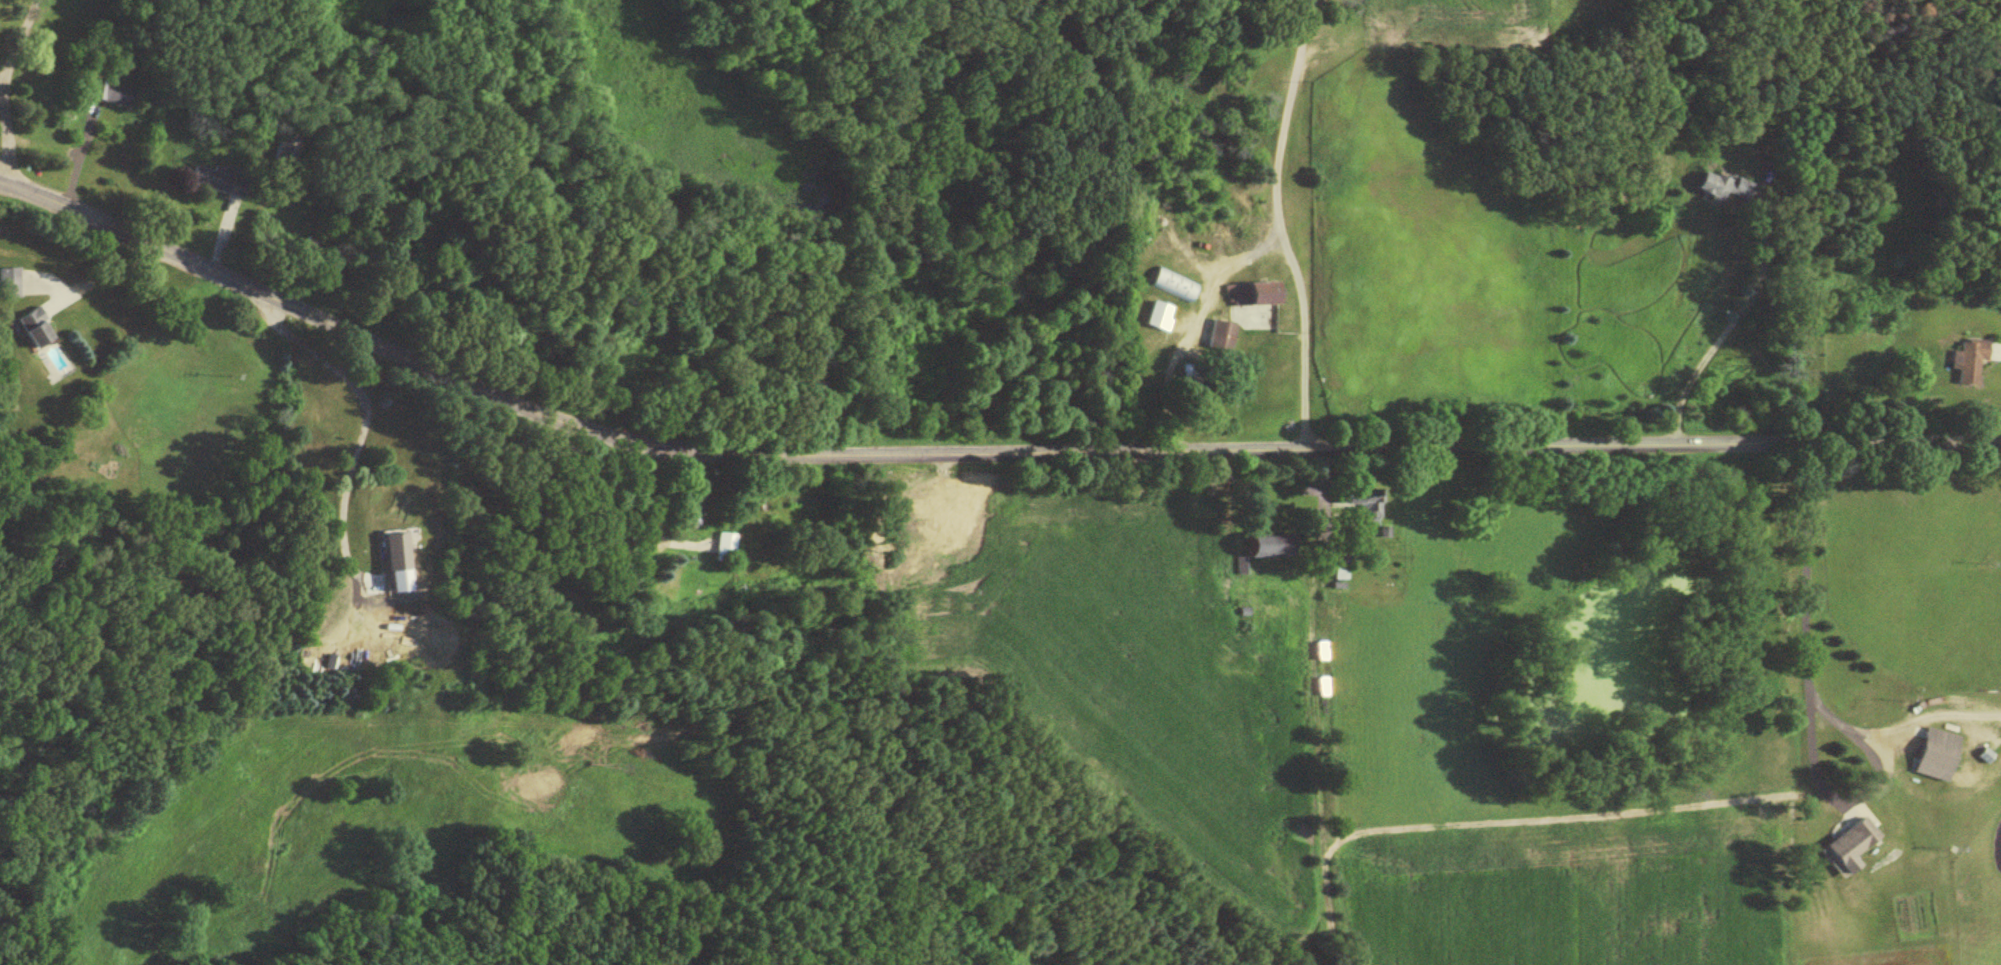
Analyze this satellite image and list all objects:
road: (13, 39)
building: (108, 93)
road: (3, 143)
road: (77, 151)
building: (215, 183)
building: (1723, 190)
road: (1282, 223)
building: (310, 253)
road: (107, 273)
building: (8, 285)
building: (1175, 287)
building: (1263, 296)
building: (1158, 319)
road: (1192, 321)
road: (1728, 324)
building: (33, 332)
building: (1223, 339)
building: (1970, 364)
road: (357, 430)
road: (974, 449)
building: (1364, 509)
building: (683, 518)
building: (925, 518)
building: (725, 549)
building: (1264, 549)
building: (398, 555)
building: (415, 625)
road: (1804, 672)
building: (1936, 758)
road: (1848, 805)
building: (1850, 845)

